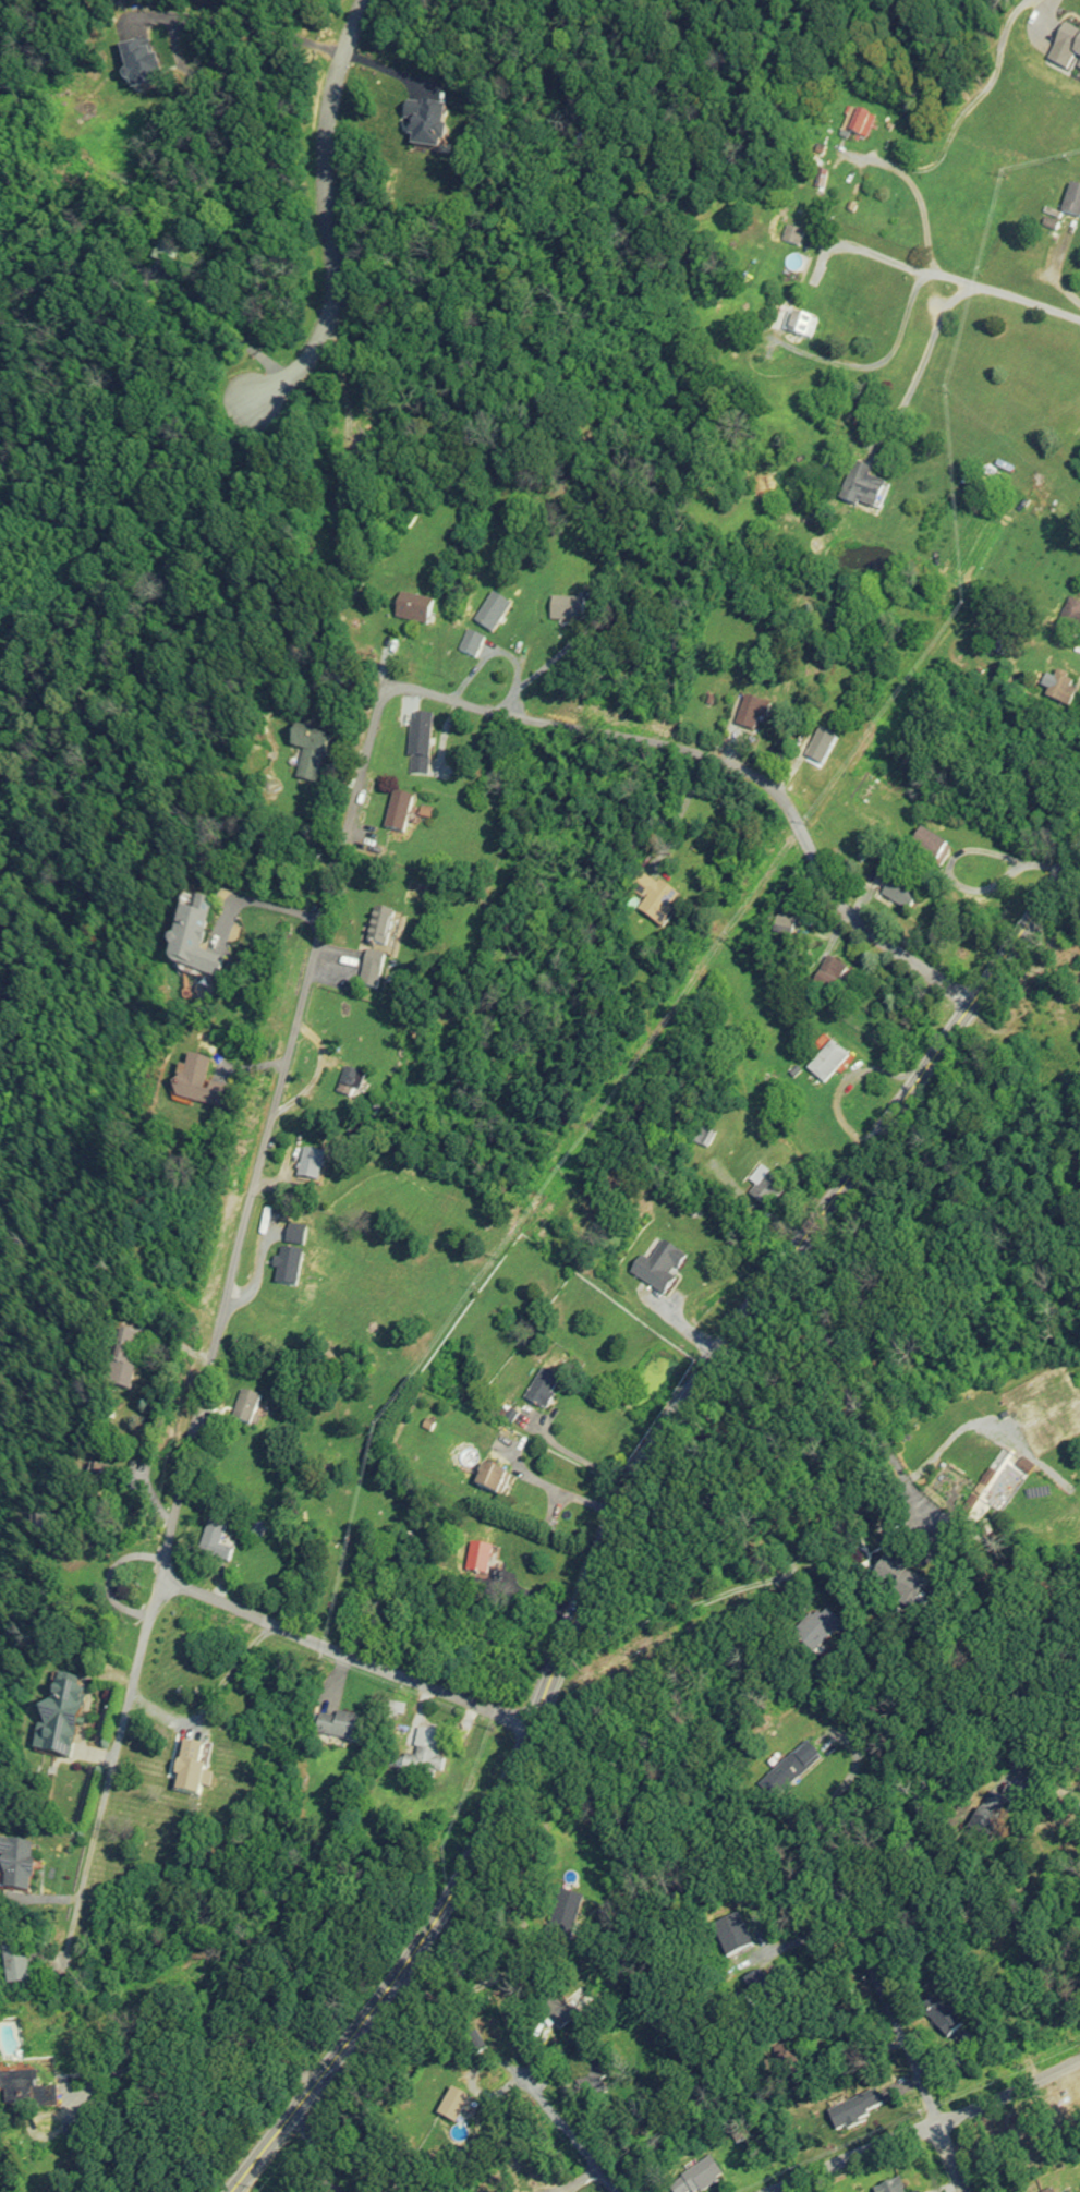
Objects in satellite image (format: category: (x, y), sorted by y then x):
building: (1067, 46)
building: (854, 125)
road: (918, 196)
building: (1070, 203)
road: (327, 226)
road: (954, 278)
building: (796, 326)
road: (815, 354)
road: (919, 362)
building: (860, 488)
building: (411, 611)
building: (563, 613)
building: (489, 616)
building: (1069, 617)
building: (469, 645)
building: (1057, 692)
building: (747, 717)
building: (817, 750)
building: (417, 752)
building: (306, 762)
road: (727, 768)
building: (396, 815)
building: (926, 850)
road: (780, 894)
building: (895, 895)
building: (651, 899)
road: (259, 904)
building: (784, 929)
building: (190, 944)
building: (372, 953)
building: (828, 979)
building: (825, 1064)
building: (196, 1088)
building: (699, 1137)
building: (306, 1168)
building: (763, 1188)
building: (292, 1237)
building: (657, 1269)
building: (283, 1271)
road: (217, 1319)
building: (122, 1365)
road: (844, 1384)
building: (539, 1392)
building: (242, 1410)
road: (577, 1456)
building: (99, 1480)
building: (488, 1483)
road: (557, 1491)
road: (621, 1506)
building: (214, 1547)
building: (476, 1561)
building: (901, 1591)
road: (680, 1612)
building: (813, 1630)
road: (347, 1648)
building: (57, 1722)
building: (337, 1731)
building: (417, 1757)
building: (793, 1767)
building: (185, 1770)
building: (983, 1816)
building: (14, 1870)
building: (563, 1904)
building: (730, 1936)
building: (11, 1970)
road: (472, 1993)
building: (575, 2001)
building: (939, 2021)
road: (205, 2045)
road: (898, 2060)
building: (14, 2085)
building: (584, 2085)
road: (919, 2118)
road: (582, 2142)
road: (314, 2149)
building: (694, 2178)
building: (889, 2189)

